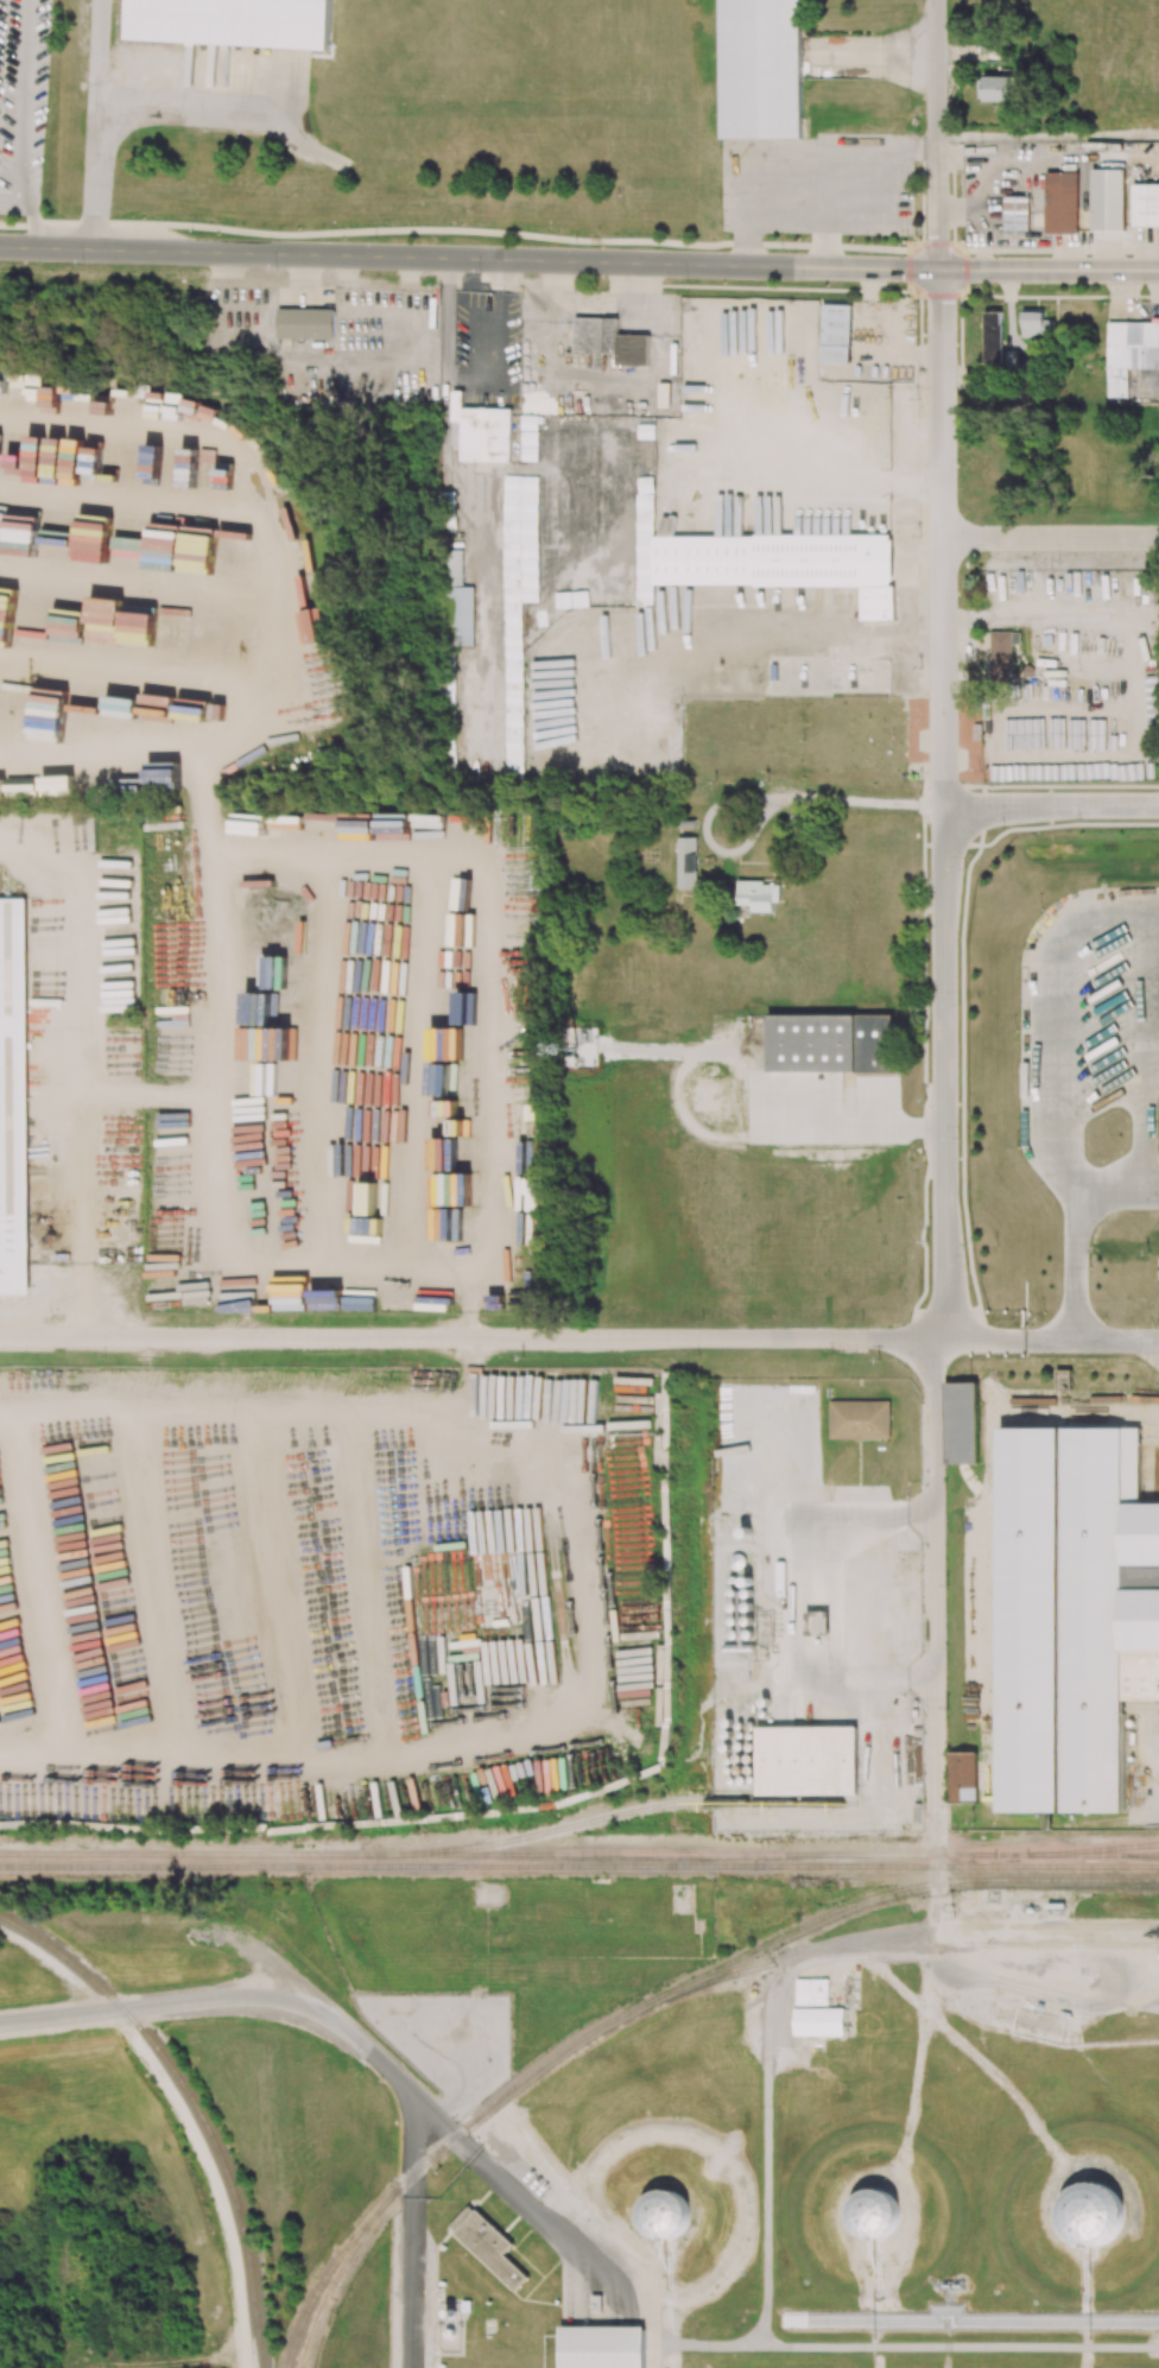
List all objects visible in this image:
building: (233, 21)
road: (935, 68)
building: (762, 70)
parking lot: (21, 97)
road: (21, 100)
park: (30, 101)
road: (188, 108)
road: (96, 124)
road: (1047, 137)
road: (861, 146)
road: (791, 197)
building: (1108, 198)
road: (8, 200)
building: (1062, 202)
building: (1146, 204)
building: (1016, 211)
road: (32, 216)
road: (469, 232)
road: (1046, 249)
road: (578, 260)
road: (1128, 302)
building: (305, 323)
road: (445, 324)
building: (609, 341)
building: (480, 431)
building: (646, 431)
road: (1050, 537)
building: (520, 539)
building: (460, 597)
building: (513, 651)
road: (747, 654)
road: (247, 714)
road: (942, 736)
road: (759, 799)
road: (1050, 805)
building: (686, 862)
building: (759, 895)
road: (1094, 923)
road: (483, 970)
building: (829, 1043)
road: (77, 1064)
building: (14, 1100)
road: (1072, 1232)
road: (267, 1256)
road: (470, 1336)
road: (1049, 1340)
road: (235, 1404)
building: (859, 1419)
building: (959, 1423)
building: (1142, 1576)
road: (937, 1589)
building: (1070, 1615)
building: (818, 1626)
railway: (1141, 1705)
road: (486, 1722)
building: (806, 1760)
building: (962, 1777)
railway: (498, 1842)
railway: (1100, 1849)
railway: (66, 1854)
railway: (783, 1854)
railway: (72, 1866)
railway: (652, 1866)
railway: (901, 1888)
railway: (908, 1930)
railway: (976, 1944)
building: (811, 1992)
road: (221, 1999)
building: (818, 2021)
road: (767, 2060)
railway: (517, 2085)
railway: (192, 2104)
road: (493, 2167)
building: (873, 2214)
building: (1089, 2215)
building: (663, 2216)
road: (410, 2230)
building: (487, 2244)
railway: (323, 2278)
railway: (335, 2280)
road: (641, 2287)
building: (602, 2347)

